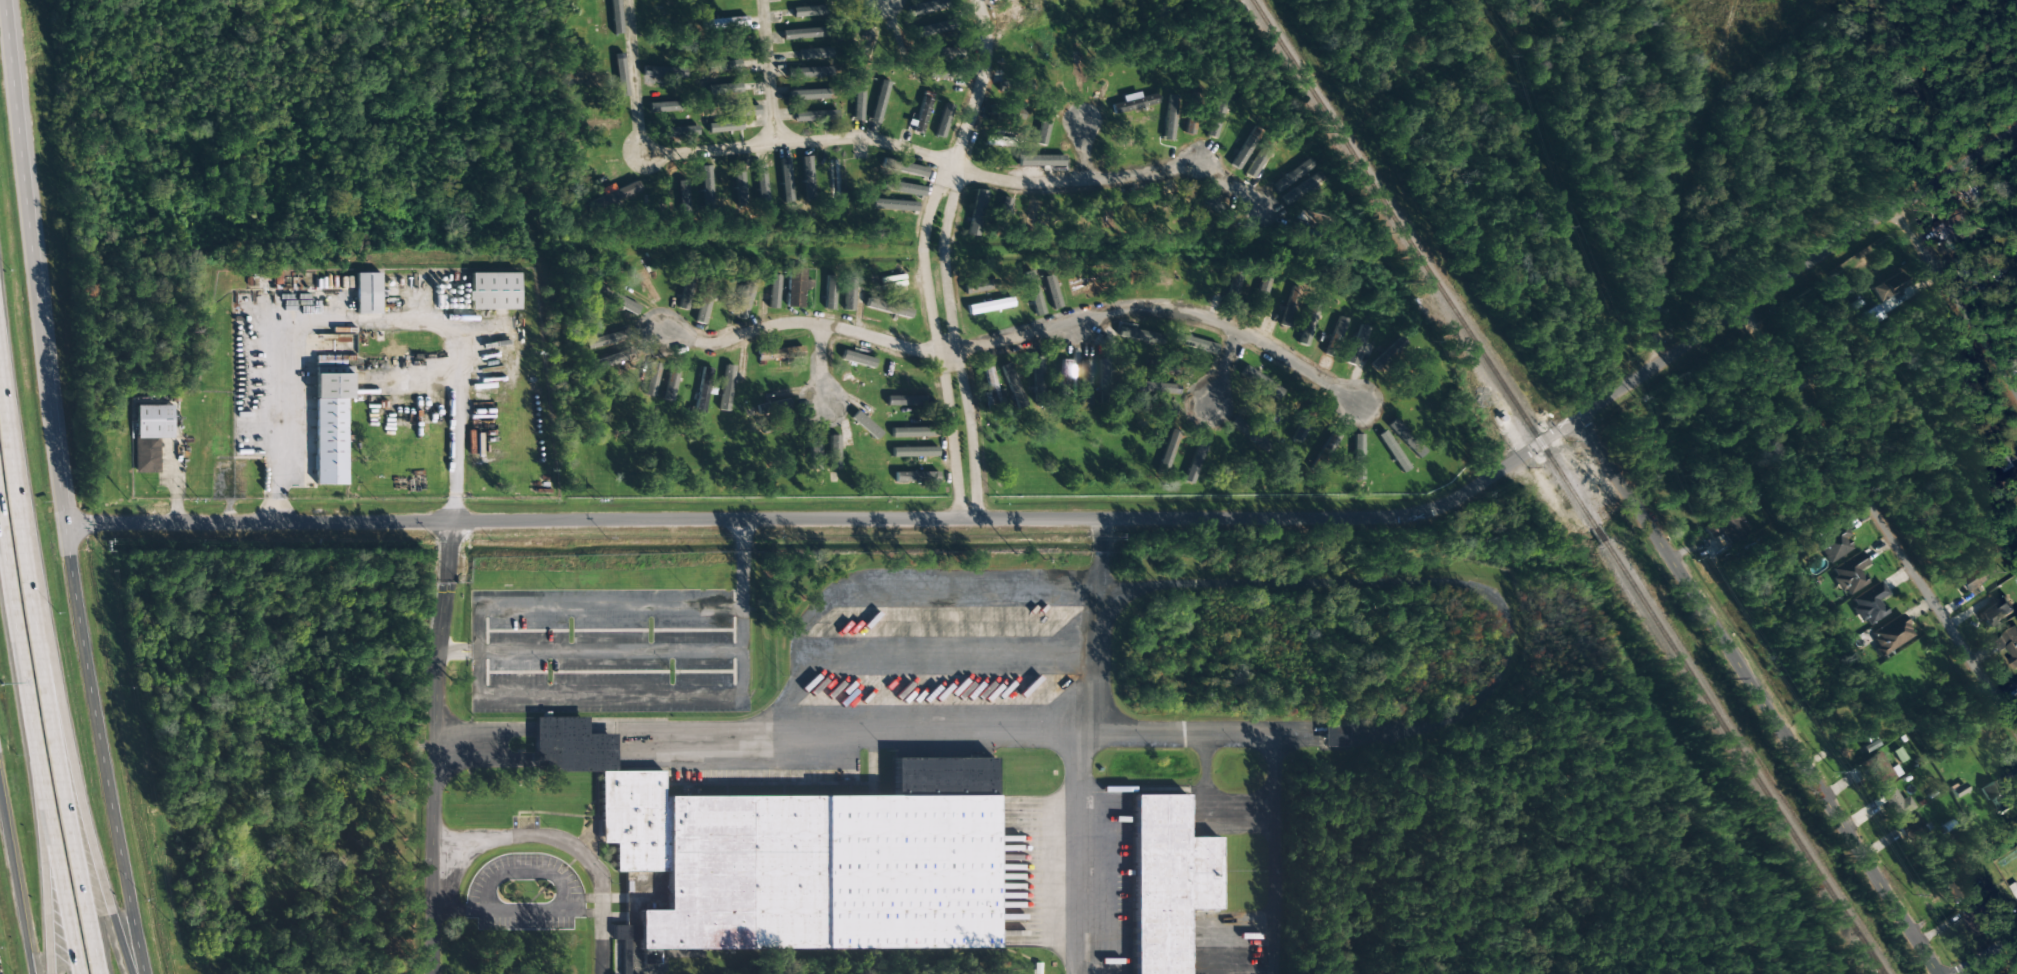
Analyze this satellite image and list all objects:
building: (808, 11)
building: (724, 22)
building: (940, 52)
building: (814, 53)
road: (766, 72)
building: (810, 72)
building: (936, 73)
road: (981, 77)
building: (722, 89)
building: (808, 94)
building: (857, 99)
building: (879, 102)
building: (1133, 102)
building: (741, 111)
building: (1014, 113)
building: (814, 115)
building: (1216, 115)
building: (921, 116)
building: (1169, 117)
building: (942, 120)
building: (1044, 122)
building: (724, 126)
building: (999, 141)
road: (723, 150)
road: (1082, 151)
building: (1242, 151)
building: (1041, 161)
building: (906, 169)
building: (1291, 175)
building: (807, 178)
road: (1116, 179)
building: (785, 180)
building: (834, 182)
building: (738, 183)
building: (760, 184)
building: (705, 186)
building: (903, 188)
building: (893, 205)
building: (1004, 206)
building: (1031, 211)
building: (976, 212)
building: (1958, 220)
building: (977, 287)
building: (796, 288)
building: (1080, 288)
building: (494, 291)
building: (773, 291)
building: (1051, 291)
building: (829, 292)
building: (368, 293)
building: (686, 293)
building: (848, 293)
building: (1032, 293)
building: (1889, 296)
building: (1259, 297)
building: (615, 298)
building: (745, 298)
road: (1958, 299)
building: (705, 302)
building: (990, 305)
road: (1168, 307)
building: (888, 308)
building: (1287, 316)
road: (799, 323)
building: (1308, 323)
building: (1338, 329)
road: (935, 331)
building: (1137, 334)
road: (953, 335)
building: (604, 340)
building: (1198, 344)
building: (1356, 345)
building: (1391, 351)
road: (948, 352)
building: (857, 359)
road: (1222, 367)
road: (820, 369)
building: (1103, 372)
building: (1037, 373)
building: (652, 380)
building: (1260, 382)
building: (1084, 383)
building: (670, 384)
building: (726, 388)
building: (702, 390)
building: (775, 403)
building: (331, 423)
building: (866, 425)
building: (911, 432)
building: (151, 435)
building: (914, 451)
building: (814, 452)
building: (833, 452)
building: (1357, 457)
building: (916, 476)
railway: (1566, 487)
road: (60, 493)
road: (1097, 518)
road: (1881, 519)
building: (1727, 526)
building: (1833, 543)
building: (1849, 573)
building: (1974, 576)
building: (1869, 603)
building: (1995, 611)
building: (1890, 635)
building: (2009, 645)
road: (46, 665)
road: (1760, 696)
building: (1336, 736)
road: (35, 746)
road: (436, 747)
building: (1879, 770)
building: (1998, 795)
building: (1896, 803)
building: (1914, 830)
road: (543, 841)
road: (90, 845)
building: (809, 847)
road: (44, 868)
building: (1179, 879)
road: (15, 889)
building: (1977, 917)
building: (626, 942)
road: (1987, 954)

